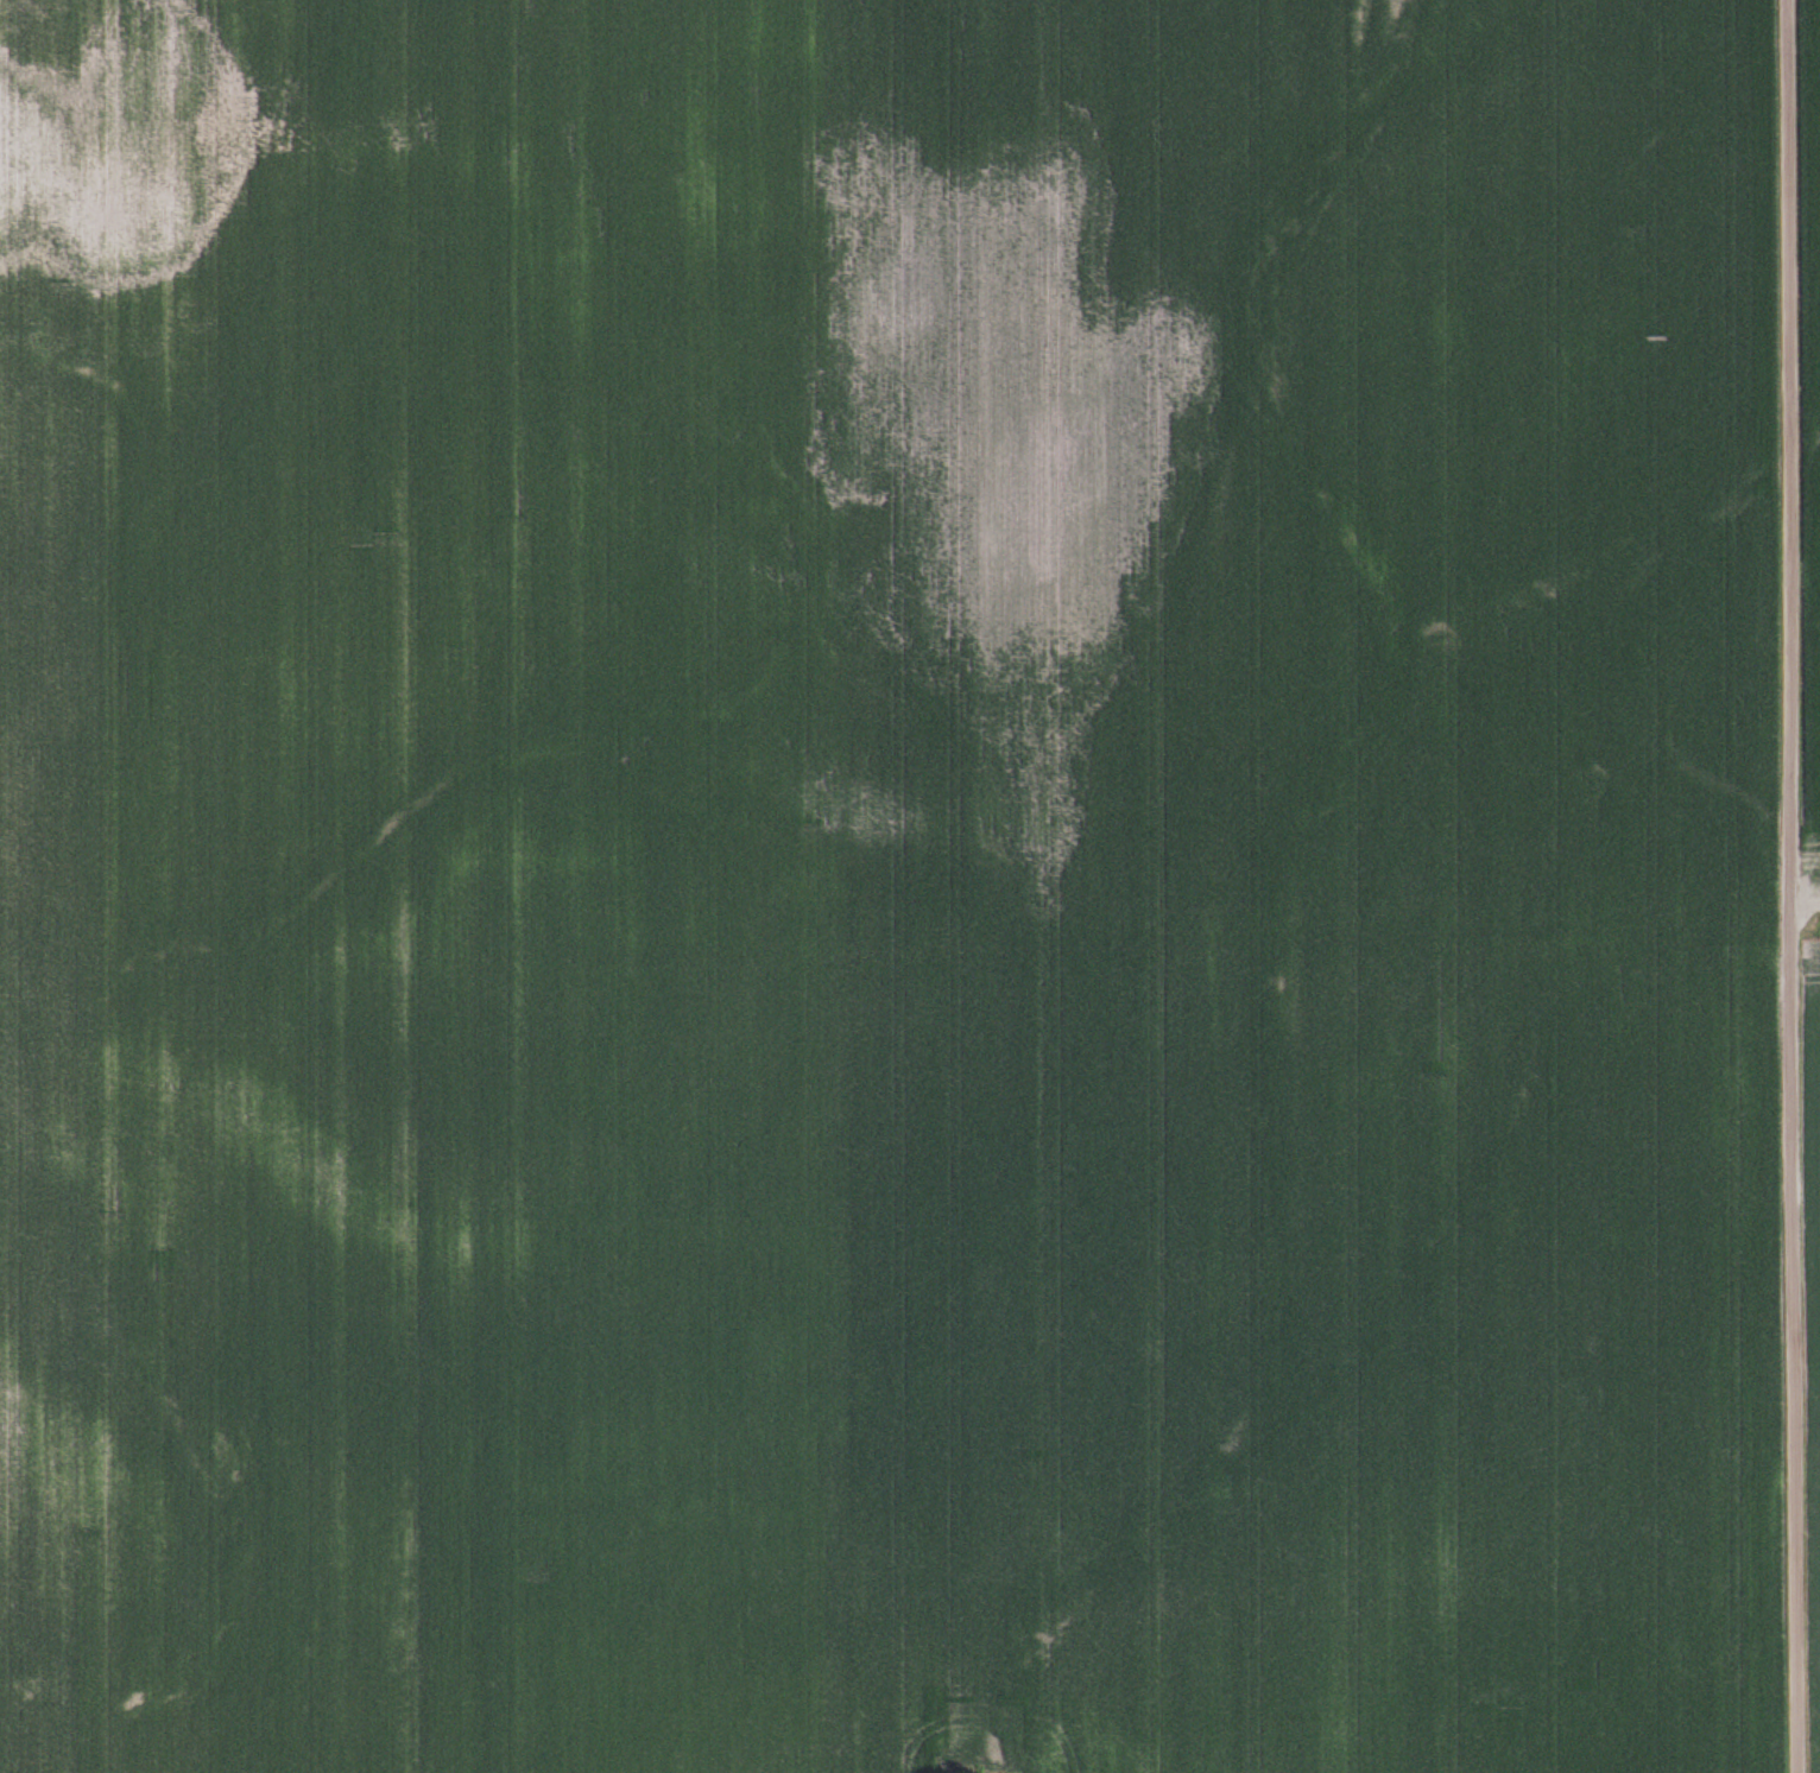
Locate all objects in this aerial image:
crop: (1812, 438)
road: (1786, 886)
crop: (889, 887)
crop: (1813, 1328)

